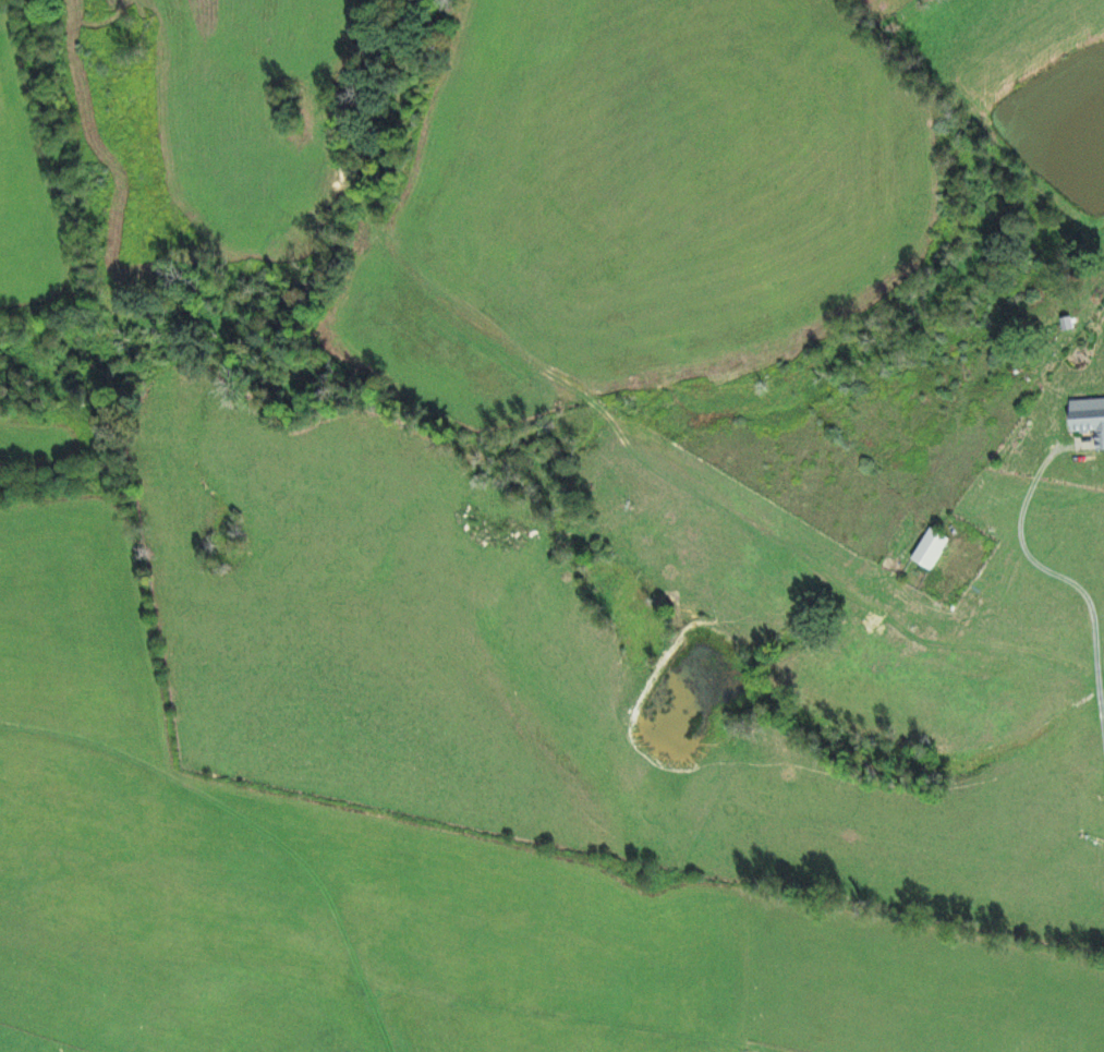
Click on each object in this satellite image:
building: (1089, 419)
building: (931, 548)
road: (1091, 551)
road: (1021, 672)

